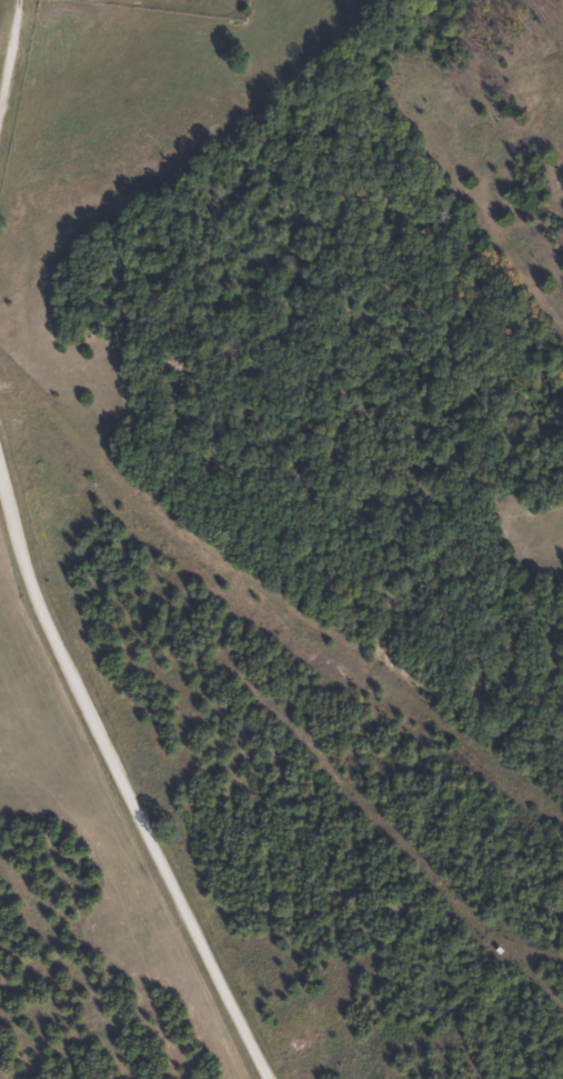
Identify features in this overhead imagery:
park: (187, 7)
road: (2, 37)
road: (118, 820)

